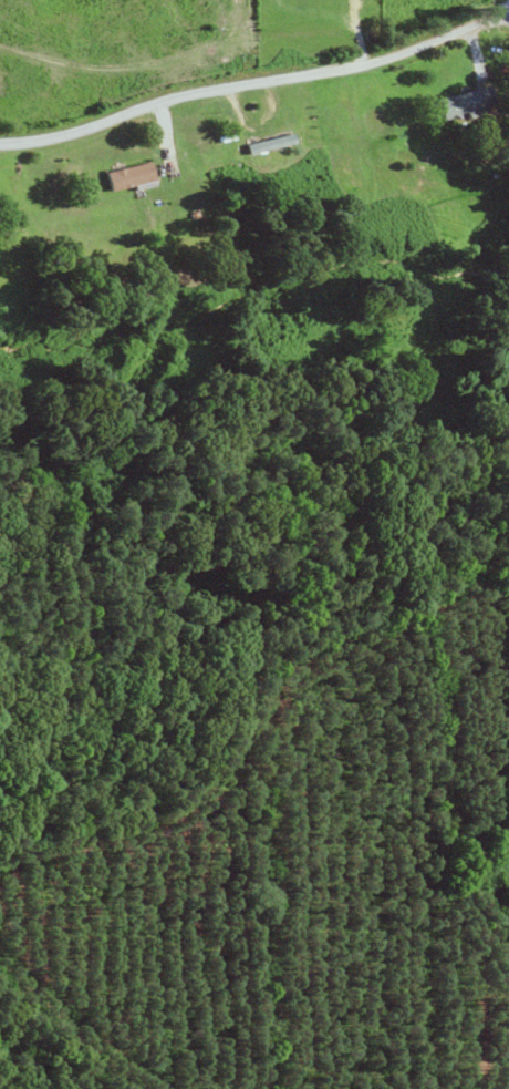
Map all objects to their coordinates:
road: (256, 84)
building: (461, 104)
building: (267, 144)
building: (125, 176)

